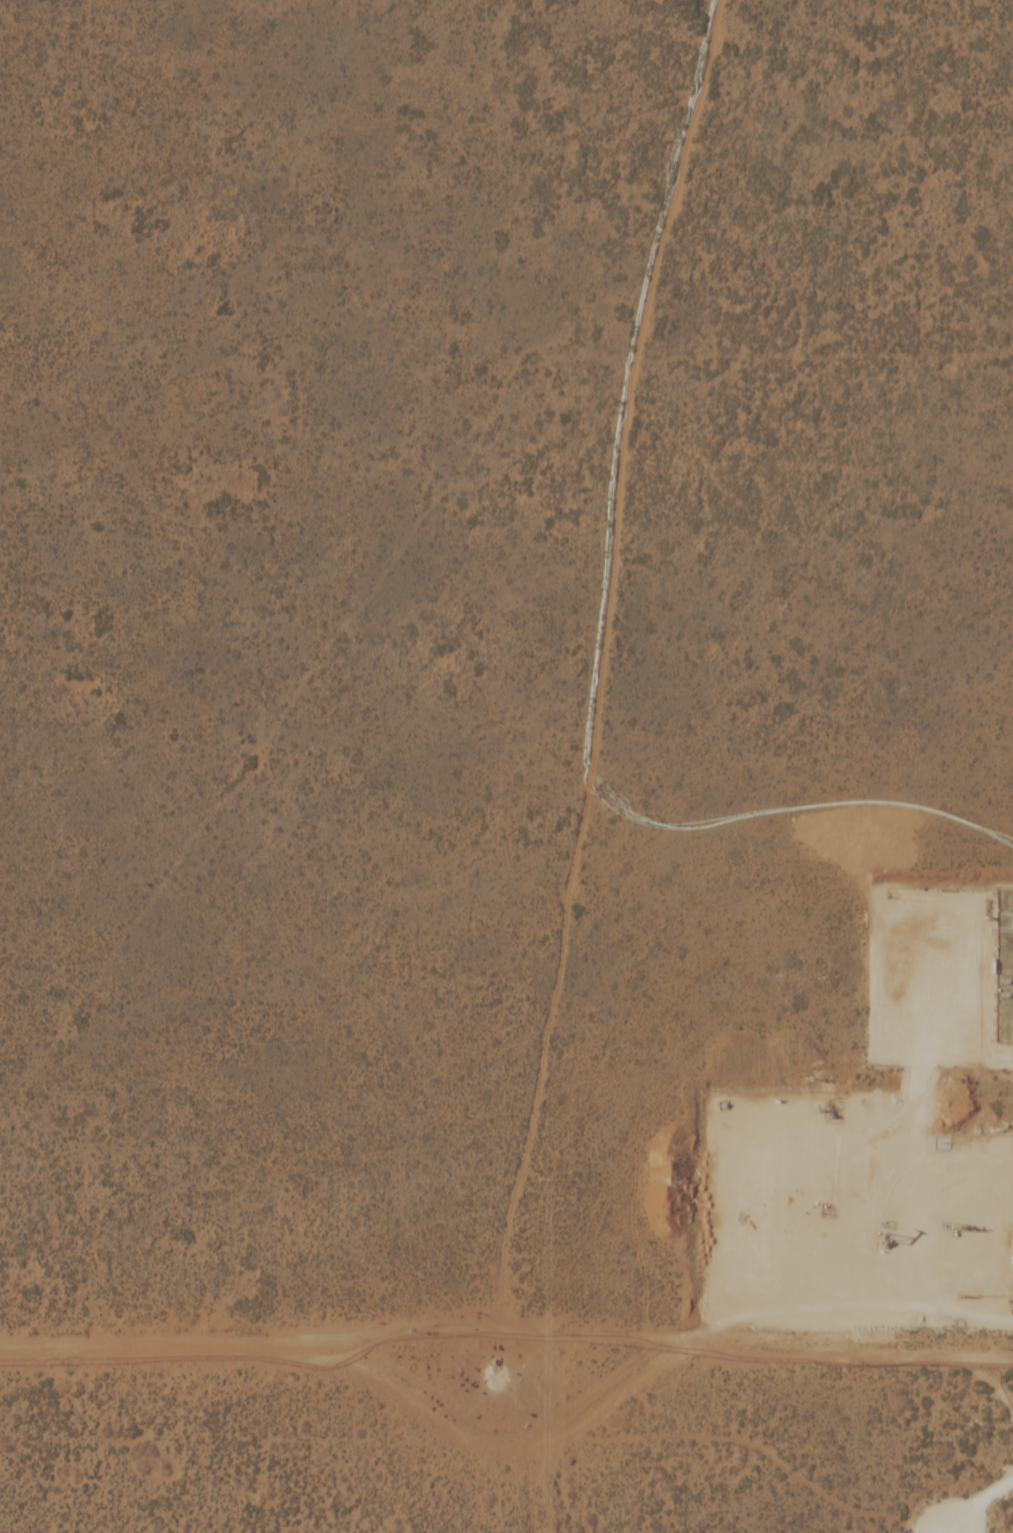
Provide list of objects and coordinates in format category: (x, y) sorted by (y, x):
road: (937, 1107)
road: (873, 1312)

